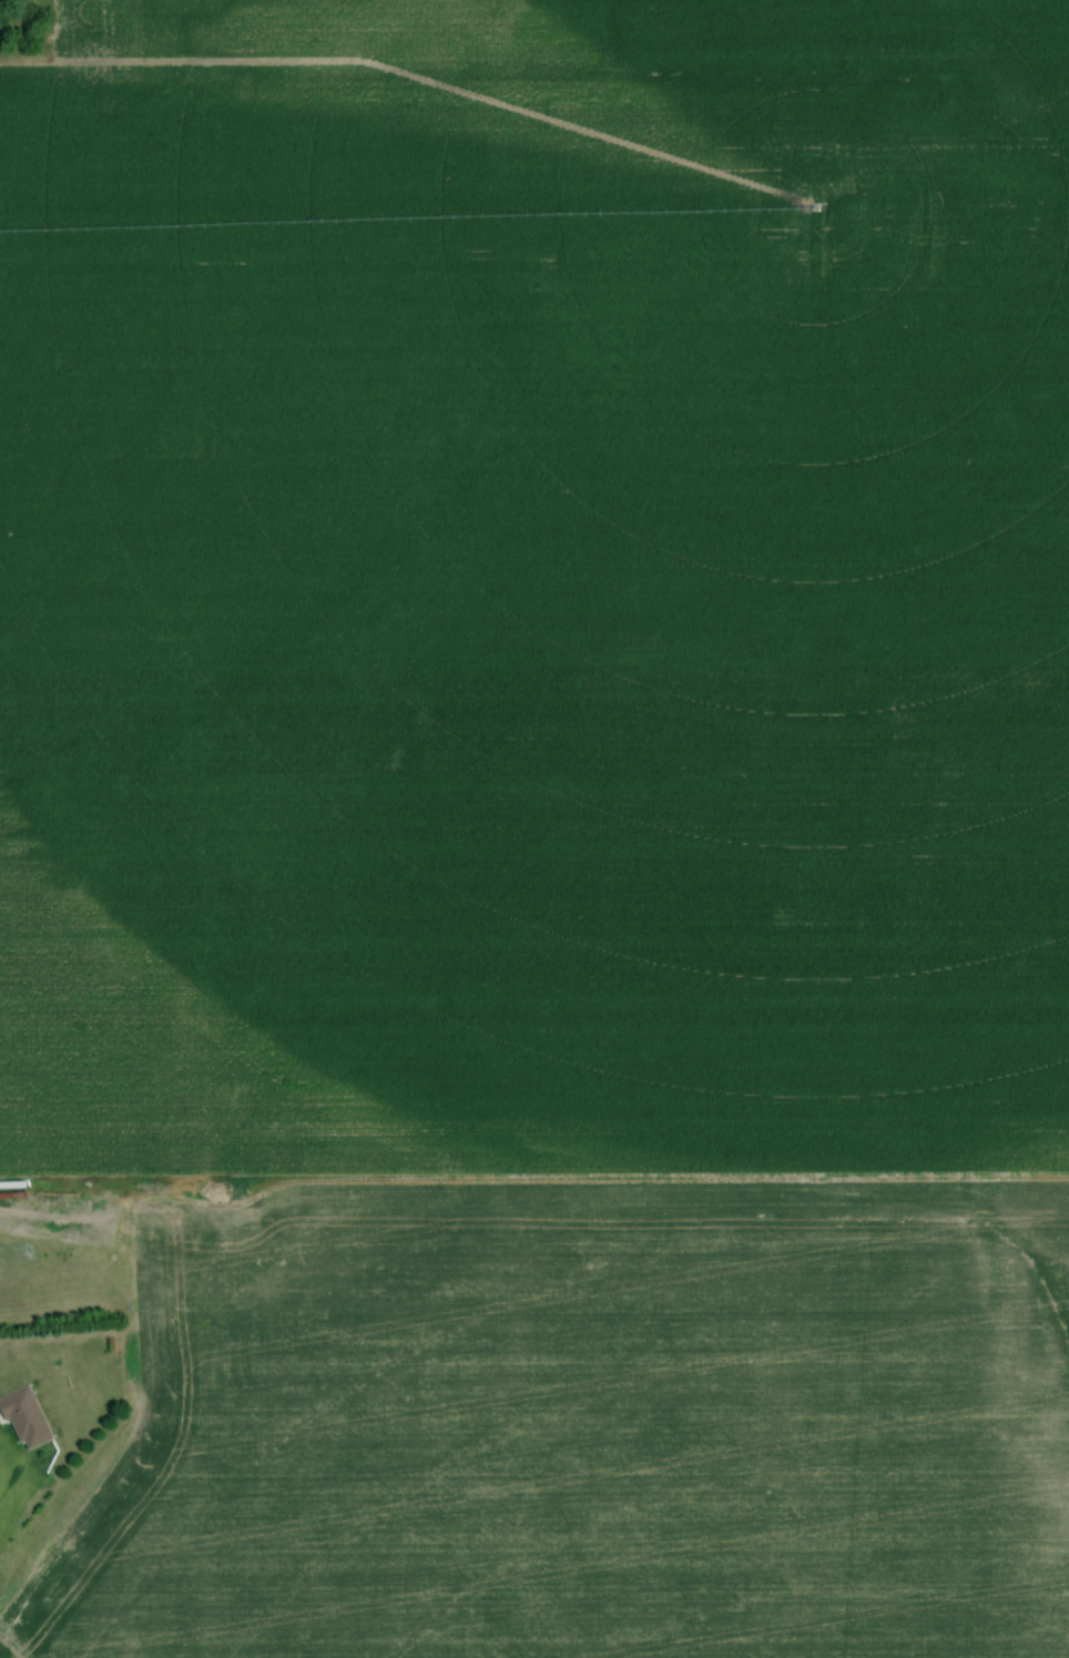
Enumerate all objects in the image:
railway: (534, 35)
building: (23, 1420)

